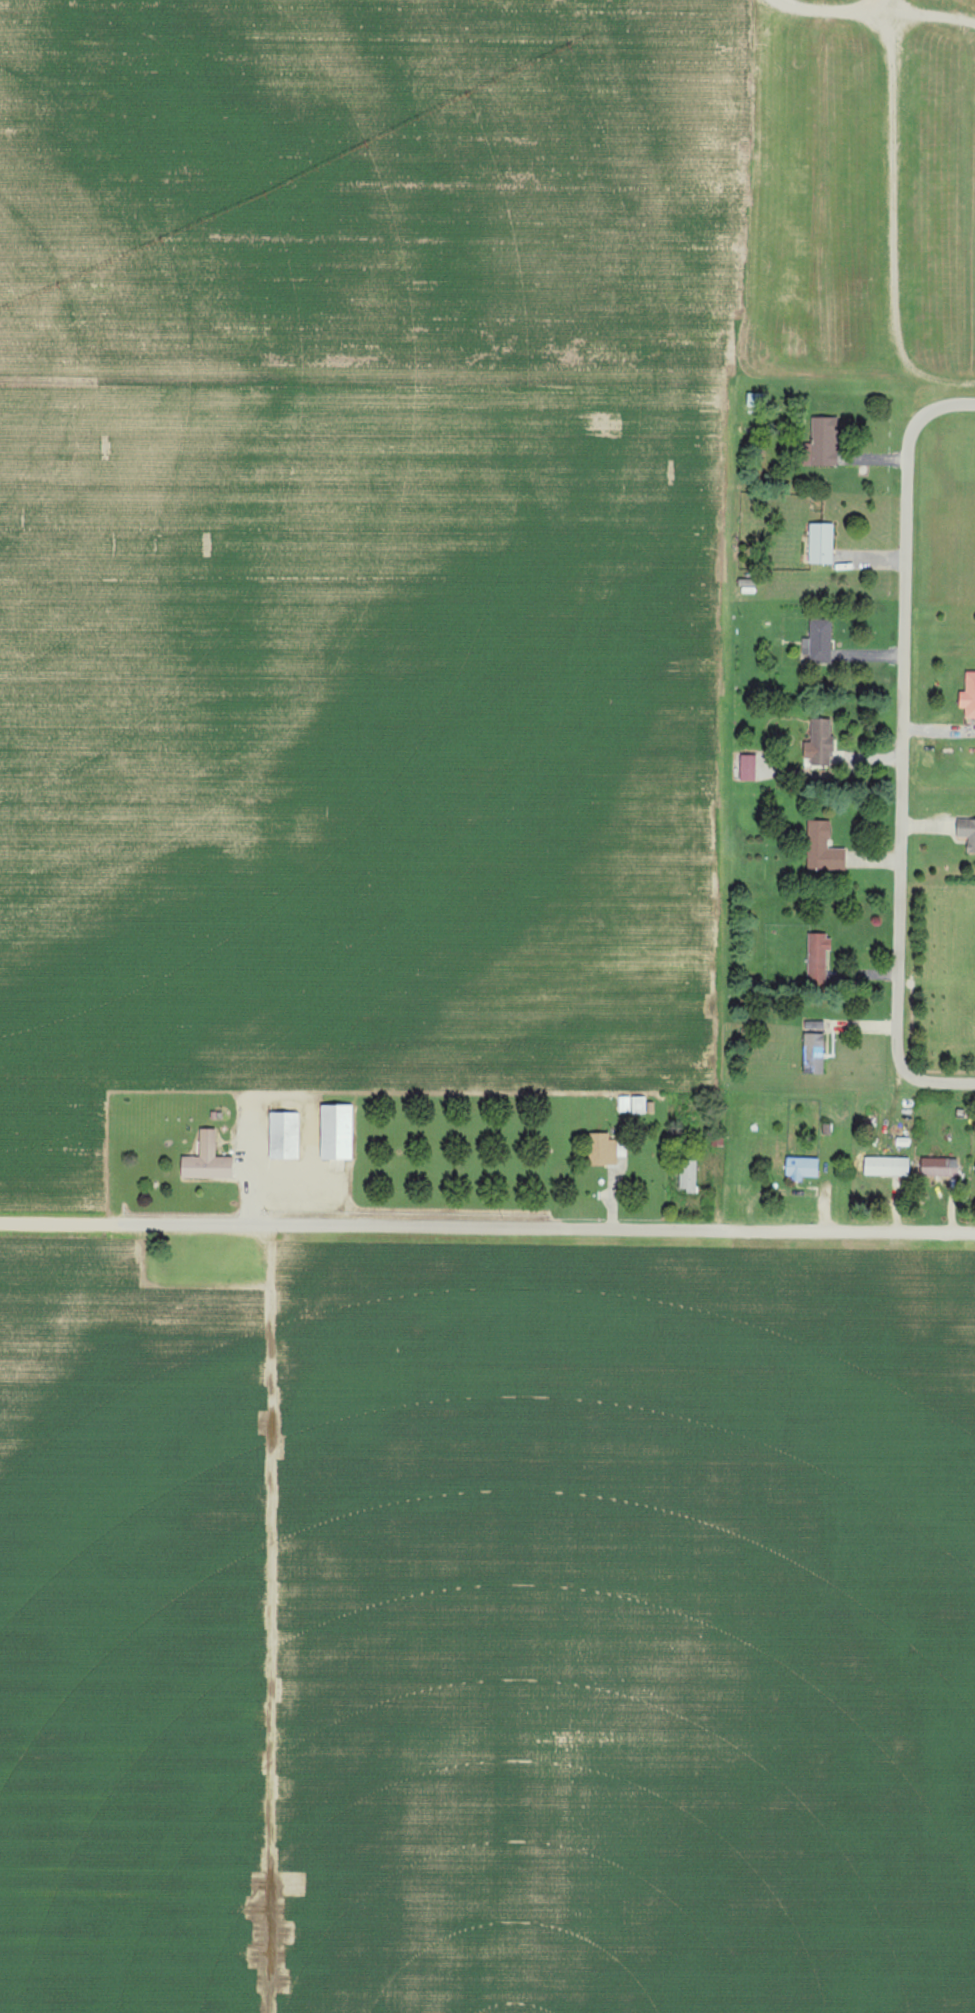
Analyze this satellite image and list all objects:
road: (822, 7)
building: (823, 443)
building: (821, 544)
building: (819, 641)
building: (969, 695)
building: (820, 744)
road: (904, 750)
building: (748, 766)
building: (967, 831)
building: (824, 848)
building: (818, 957)
building: (814, 1047)
building: (639, 1105)
building: (337, 1132)
building: (284, 1135)
building: (603, 1148)
building: (207, 1160)
building: (887, 1166)
building: (802, 1167)
building: (940, 1167)
building: (688, 1175)
road: (487, 1230)

